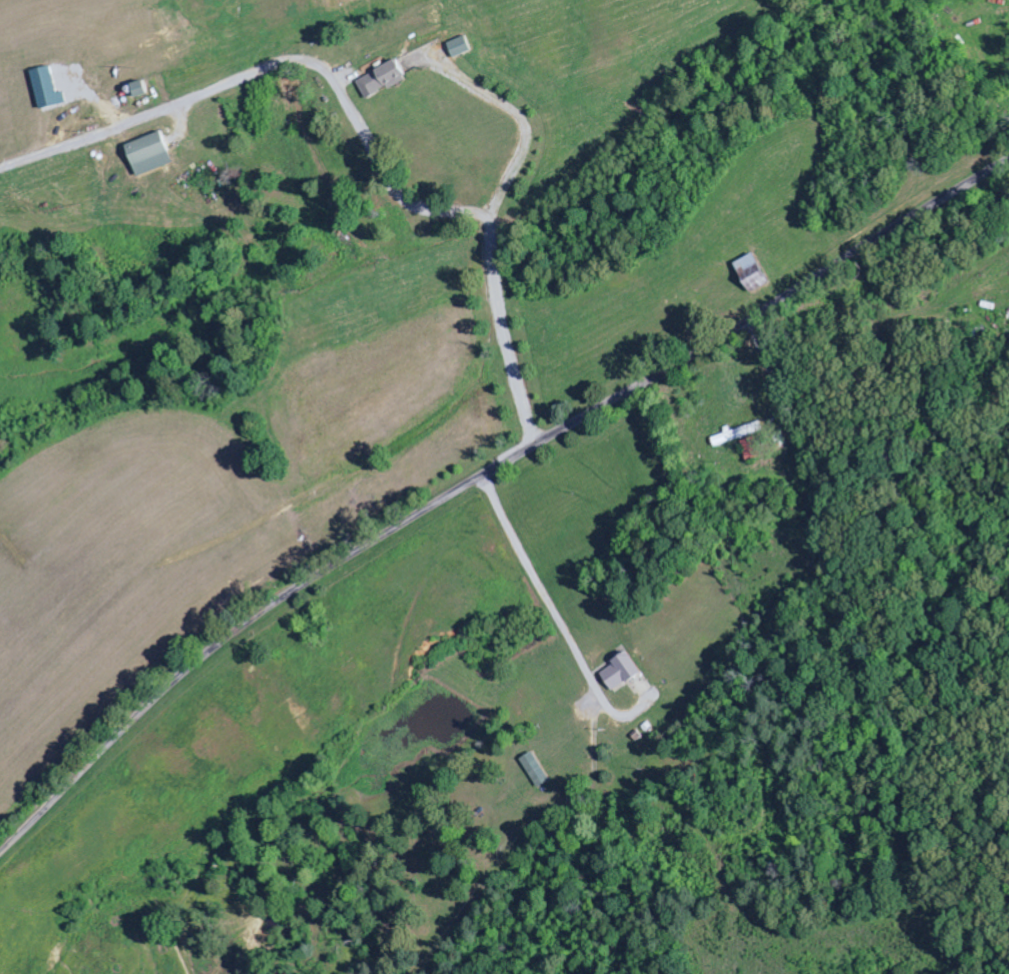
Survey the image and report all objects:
building: (459, 47)
building: (382, 79)
building: (47, 88)
building: (140, 89)
building: (151, 154)
building: (752, 273)
building: (737, 434)
building: (750, 450)
road: (485, 484)
building: (621, 672)
building: (536, 770)

